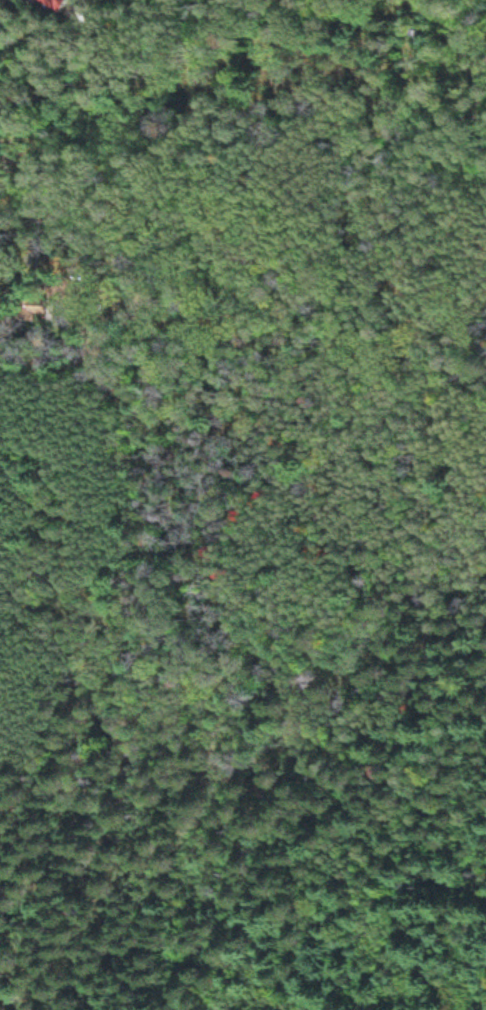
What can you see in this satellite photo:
building: (51, 4)

